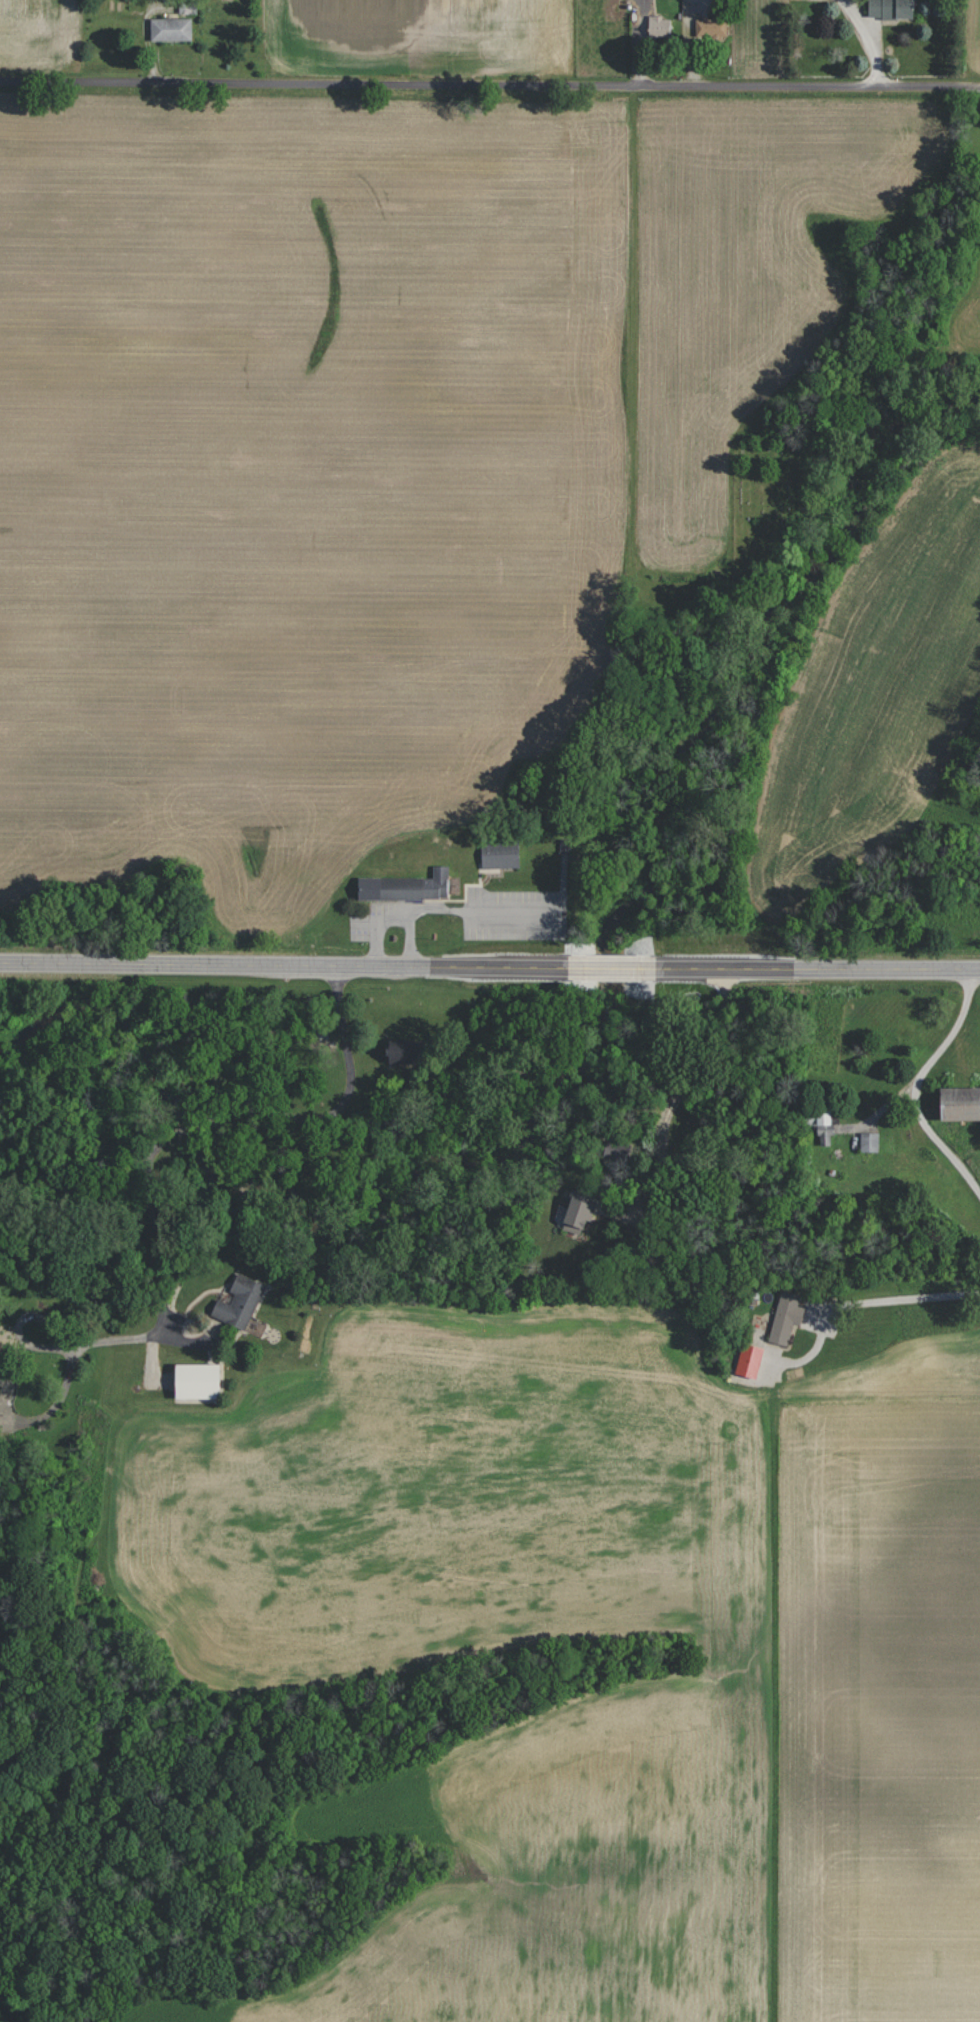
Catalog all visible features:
building: (891, 8)
building: (659, 26)
building: (711, 26)
building: (171, 28)
road: (868, 40)
road: (490, 84)
park: (765, 495)
building: (500, 855)
building: (406, 887)
road: (490, 967)
building: (405, 1052)
road: (930, 1081)
building: (960, 1104)
building: (870, 1142)
building: (615, 1150)
building: (578, 1213)
building: (239, 1301)
road: (916, 1302)
building: (786, 1317)
building: (1, 1358)
building: (749, 1359)
building: (197, 1380)

